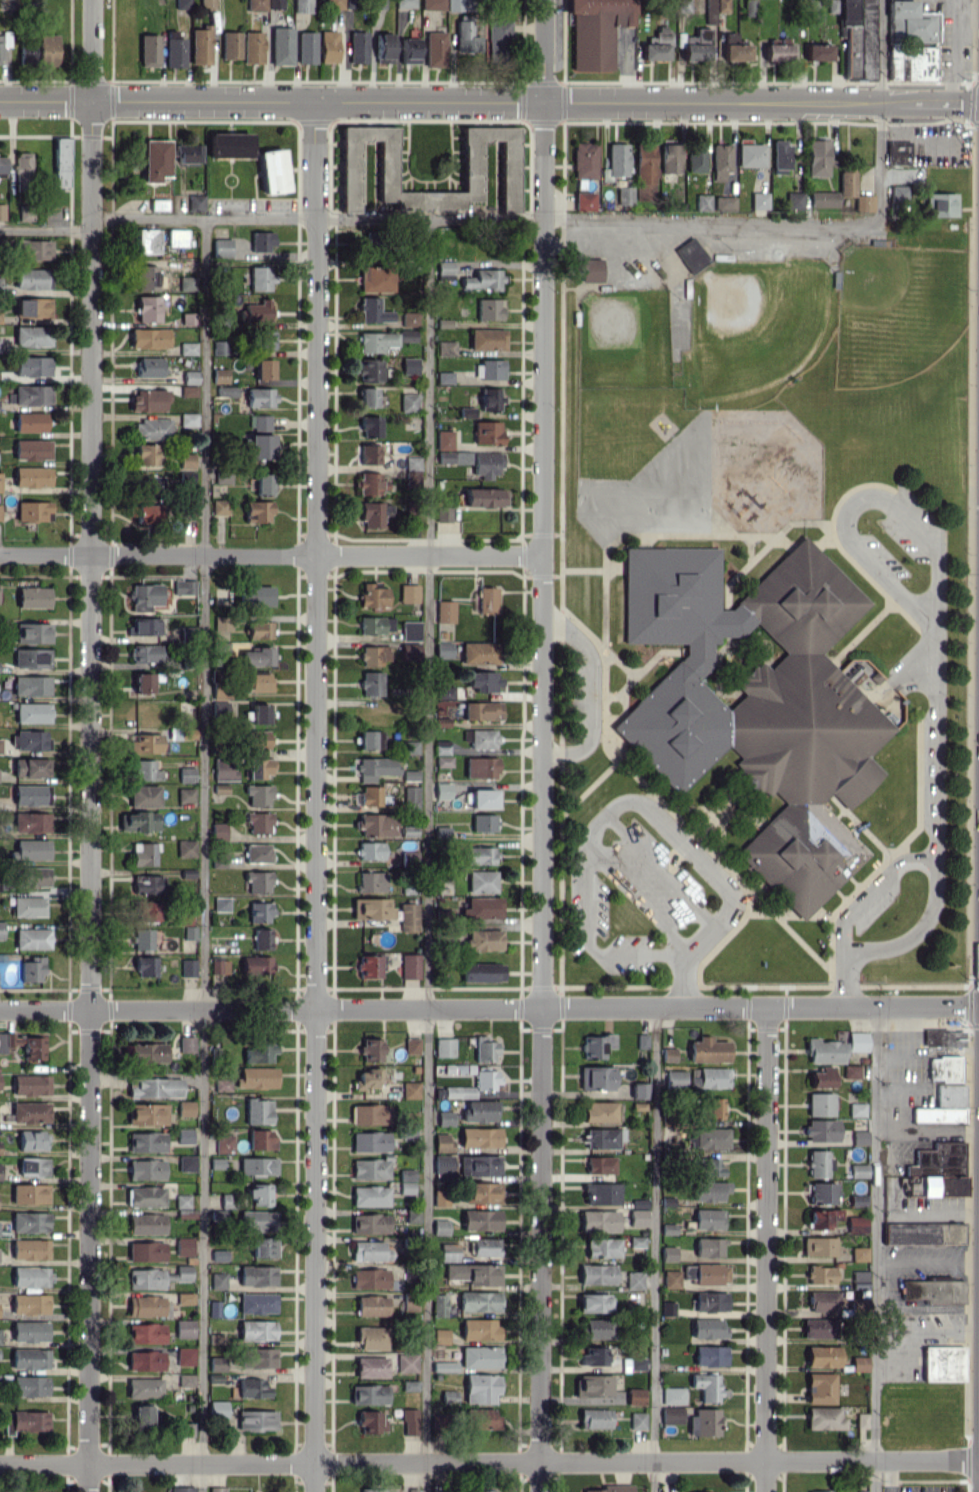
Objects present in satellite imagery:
building: (184, 3)
building: (207, 4)
building: (275, 4)
building: (334, 4)
building: (377, 4)
building: (405, 4)
building: (433, 4)
building: (256, 5)
building: (455, 5)
building: (682, 5)
building: (303, 6)
building: (833, 6)
building: (748, 8)
building: (812, 8)
building: (715, 9)
building: (596, 31)
building: (465, 36)
building: (857, 37)
building: (498, 38)
building: (911, 42)
building: (201, 44)
building: (230, 45)
building: (282, 45)
building: (696, 45)
building: (328, 46)
building: (656, 46)
building: (0, 47)
building: (252, 47)
building: (307, 47)
building: (358, 47)
building: (48, 48)
building: (383, 48)
building: (435, 48)
building: (734, 48)
building: (174, 49)
building: (149, 50)
building: (409, 50)
road: (544, 50)
building: (27, 52)
building: (777, 52)
building: (818, 52)
road: (272, 100)
road: (761, 101)
road: (878, 111)
building: (229, 145)
building: (898, 152)
building: (188, 153)
building: (750, 155)
building: (781, 155)
building: (695, 157)
building: (817, 157)
building: (670, 158)
building: (155, 160)
road: (543, 160)
building: (584, 160)
building: (616, 161)
building: (720, 161)
building: (63, 162)
building: (386, 165)
building: (2, 166)
building: (22, 167)
building: (272, 171)
building: (644, 172)
building: (846, 183)
building: (899, 194)
building: (624, 195)
building: (823, 198)
building: (795, 199)
building: (584, 200)
building: (759, 200)
building: (702, 201)
building: (725, 202)
building: (864, 202)
building: (196, 203)
building: (940, 204)
building: (2, 211)
road: (317, 219)
road: (710, 222)
road: (45, 228)
building: (176, 237)
building: (148, 240)
building: (261, 241)
building: (221, 247)
building: (33, 250)
building: (691, 254)
building: (590, 269)
building: (444, 270)
building: (146, 277)
building: (30, 278)
building: (261, 278)
building: (375, 278)
building: (483, 279)
building: (0, 283)
building: (33, 307)
building: (148, 308)
building: (488, 309)
park: (896, 309)
building: (258, 311)
building: (372, 311)
building: (188, 318)
building: (409, 318)
park: (752, 320)
building: (407, 335)
building: (32, 336)
building: (149, 338)
building: (265, 339)
building: (487, 339)
building: (376, 341)
building: (219, 347)
building: (446, 347)
building: (187, 348)
building: (33, 365)
building: (409, 365)
building: (149, 367)
building: (263, 368)
building: (488, 369)
building: (369, 370)
building: (219, 375)
building: (190, 376)
building: (444, 377)
building: (188, 390)
building: (226, 391)
building: (30, 394)
building: (260, 397)
building: (367, 397)
building: (490, 398)
building: (148, 400)
building: (408, 402)
building: (466, 412)
building: (188, 419)
building: (30, 421)
building: (259, 422)
building: (370, 426)
building: (152, 429)
building: (487, 432)
building: (444, 439)
building: (260, 446)
building: (32, 449)
building: (147, 454)
building: (369, 454)
building: (453, 457)
building: (186, 460)
building: (486, 464)
building: (412, 470)
building: (32, 476)
building: (223, 476)
building: (0, 482)
building: (153, 483)
building: (371, 483)
building: (263, 484)
road: (859, 493)
building: (484, 497)
building: (220, 506)
building: (34, 511)
building: (257, 511)
building: (0, 512)
building: (146, 513)
building: (374, 513)
building: (442, 513)
road: (271, 554)
building: (184, 587)
building: (408, 593)
building: (373, 594)
building: (257, 595)
building: (34, 596)
building: (146, 597)
building: (487, 599)
building: (445, 610)
building: (222, 622)
building: (374, 624)
building: (144, 626)
building: (259, 629)
building: (410, 629)
building: (34, 633)
building: (443, 649)
building: (409, 650)
building: (478, 652)
building: (146, 653)
building: (371, 655)
building: (257, 656)
building: (32, 657)
building: (259, 681)
building: (483, 681)
building: (143, 682)
building: (371, 683)
building: (31, 685)
building: (445, 691)
road: (588, 693)
building: (758, 705)
building: (481, 710)
building: (33, 712)
building: (259, 713)
building: (480, 738)
building: (32, 739)
building: (258, 739)
building: (370, 739)
road: (931, 739)
building: (144, 742)
building: (0, 745)
road: (90, 745)
building: (441, 746)
building: (409, 747)
building: (443, 761)
building: (32, 767)
building: (259, 767)
building: (373, 767)
building: (480, 767)
building: (225, 769)
building: (146, 770)
building: (187, 774)
building: (410, 775)
building: (442, 790)
building: (32, 794)
building: (185, 794)
building: (258, 795)
building: (369, 795)
building: (144, 796)
road: (316, 796)
building: (411, 797)
building: (482, 798)
building: (140, 821)
building: (32, 822)
building: (258, 822)
building: (483, 822)
building: (376, 824)
road: (588, 824)
building: (218, 831)
building: (441, 832)
road: (672, 834)
building: (185, 848)
building: (32, 849)
building: (370, 850)
building: (143, 853)
building: (257, 853)
road: (204, 855)
road: (427, 855)
building: (479, 855)
road: (542, 856)
road: (656, 867)
building: (34, 876)
building: (257, 881)
building: (371, 881)
building: (481, 881)
building: (147, 884)
road: (867, 887)
road: (636, 898)
building: (221, 903)
building: (28, 906)
building: (483, 907)
building: (371, 908)
road: (722, 909)
building: (147, 910)
building: (259, 912)
building: (408, 916)
building: (1, 929)
road: (913, 931)
building: (32, 938)
building: (142, 938)
building: (261, 938)
building: (483, 939)
road: (586, 941)
road: (682, 960)
building: (255, 964)
building: (145, 966)
building: (219, 966)
building: (367, 966)
building: (409, 966)
building: (187, 967)
building: (32, 969)
building: (481, 972)
road: (841, 981)
road: (489, 1007)
building: (943, 1037)
building: (641, 1040)
building: (857, 1041)
building: (186, 1043)
building: (23, 1045)
building: (411, 1045)
building: (595, 1045)
building: (443, 1047)
building: (370, 1049)
building: (483, 1049)
building: (707, 1049)
building: (259, 1051)
building: (824, 1051)
building: (147, 1052)
building: (667, 1054)
building: (943, 1068)
building: (850, 1071)
building: (255, 1077)
building: (595, 1077)
building: (708, 1077)
building: (367, 1078)
building: (485, 1078)
building: (822, 1078)
building: (674, 1079)
building: (30, 1084)
building: (222, 1084)
building: (154, 1087)
building: (410, 1089)
building: (638, 1090)
building: (819, 1104)
building: (942, 1105)
building: (712, 1107)
building: (185, 1108)
building: (856, 1109)
building: (257, 1111)
building: (478, 1111)
building: (598, 1111)
building: (29, 1112)
building: (146, 1113)
building: (368, 1114)
building: (409, 1118)
building: (444, 1118)
building: (820, 1130)
building: (184, 1135)
building: (479, 1137)
building: (601, 1137)
building: (707, 1137)
building: (859, 1137)
building: (260, 1139)
building: (32, 1140)
building: (369, 1141)
building: (146, 1142)
building: (441, 1142)
building: (223, 1143)
building: (936, 1161)
building: (186, 1163)
building: (442, 1164)
building: (599, 1164)
building: (817, 1164)
building: (257, 1165)
building: (478, 1165)
building: (0, 1166)
building: (33, 1166)
building: (707, 1166)
building: (145, 1169)
building: (369, 1169)
building: (858, 1170)
building: (406, 1181)
building: (940, 1186)
building: (708, 1191)
building: (481, 1192)
building: (821, 1192)
building: (29, 1193)
building: (601, 1193)
building: (259, 1194)
building: (369, 1195)
building: (145, 1196)
building: (440, 1197)
building: (181, 1200)
building: (411, 1215)
building: (636, 1217)
building: (822, 1217)
building: (479, 1219)
building: (707, 1219)
building: (257, 1220)
building: (597, 1220)
building: (30, 1222)
building: (368, 1223)
building: (145, 1224)
building: (856, 1224)
building: (439, 1226)
building: (922, 1233)
building: (635, 1241)
building: (183, 1246)
building: (484, 1246)
building: (708, 1246)
building: (818, 1246)
building: (263, 1247)
building: (601, 1247)
road: (653, 1248)
road: (765, 1248)
road: (876, 1248)
building: (30, 1249)
building: (145, 1251)
building: (369, 1251)
building: (448, 1252)
building: (667, 1253)
building: (859, 1253)
road: (927, 1260)
building: (473, 1273)
building: (596, 1273)
building: (710, 1274)
building: (819, 1274)
building: (256, 1275)
building: (30, 1276)
building: (156, 1277)
building: (368, 1278)
building: (670, 1278)
building: (633, 1279)
building: (858, 1279)
building: (217, 1280)
building: (935, 1293)
building: (478, 1301)
building: (710, 1301)
building: (822, 1301)
building: (593, 1302)
building: (29, 1303)
building: (256, 1303)
building: (438, 1304)
building: (371, 1305)
building: (147, 1306)
road: (927, 1306)
building: (213, 1308)
building: (666, 1308)
building: (183, 1328)
building: (707, 1328)
building: (818, 1328)
building: (478, 1329)
building: (595, 1329)
building: (256, 1330)
building: (29, 1331)
building: (145, 1332)
building: (439, 1336)
building: (371, 1337)
building: (0, 1339)
building: (709, 1355)
building: (184, 1356)
building: (479, 1356)
building: (593, 1356)
building: (822, 1356)
building: (29, 1358)
building: (257, 1358)
building: (144, 1360)
building: (406, 1362)
building: (636, 1363)
building: (858, 1363)
building: (941, 1363)
building: (216, 1364)
building: (370, 1366)
building: (443, 1366)
building: (185, 1380)
building: (29, 1385)
building: (592, 1385)
building: (143, 1387)
building: (707, 1387)
building: (252, 1388)
building: (480, 1388)
building: (820, 1388)
building: (368, 1394)
building: (672, 1395)
building: (448, 1396)
building: (635, 1396)
building: (216, 1409)
building: (141, 1415)
building: (671, 1415)
building: (481, 1418)
building: (593, 1418)
building: (823, 1418)
building: (25, 1420)
building: (256, 1420)
building: (636, 1420)
building: (409, 1421)
building: (370, 1422)
building: (703, 1422)
building: (187, 1429)
road: (489, 1461)
road: (889, 1476)
building: (610, 1488)
building: (181, 1489)
building: (215, 1489)
building: (371, 1489)
building: (481, 1490)
building: (817, 1491)

